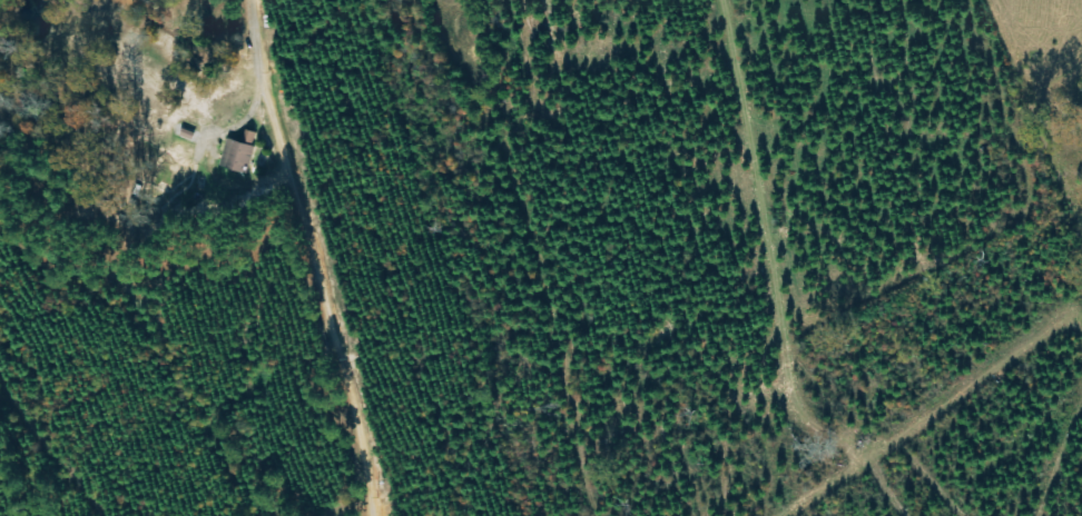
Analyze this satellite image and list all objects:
building: (238, 153)
road: (814, 191)
road: (361, 255)
road: (881, 373)

